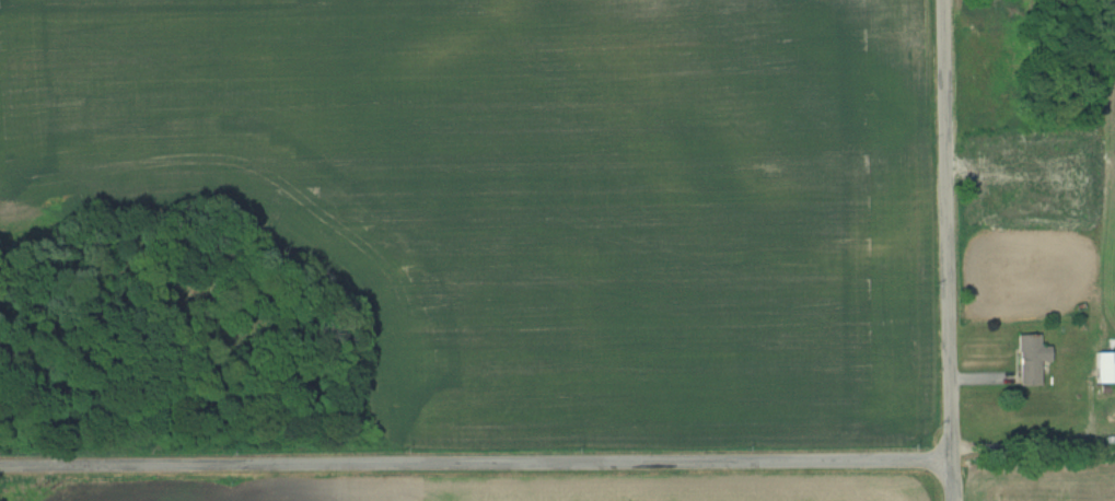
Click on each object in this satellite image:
road: (950, 249)
building: (1030, 359)
building: (1104, 366)
road: (476, 464)

